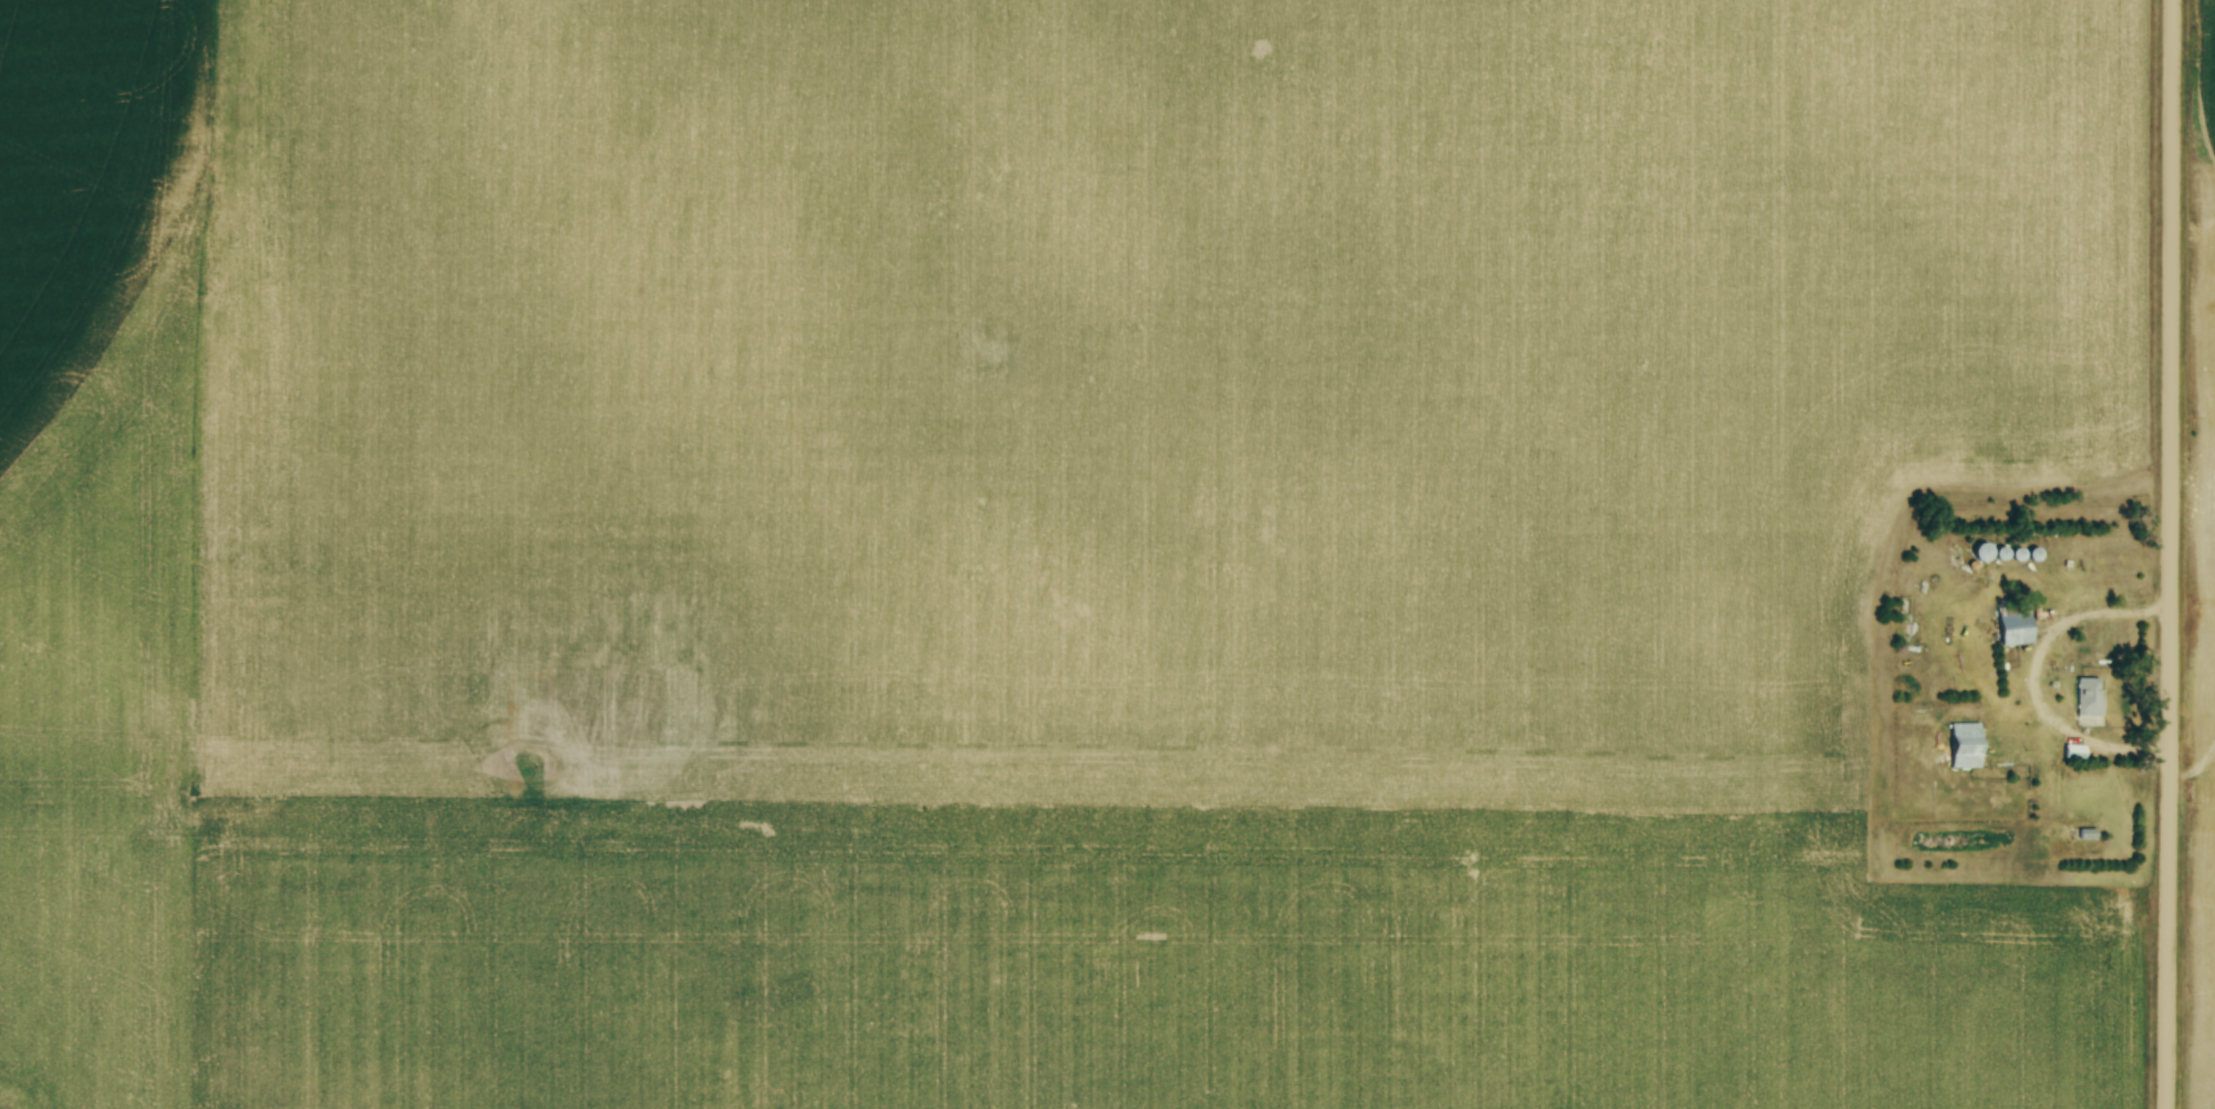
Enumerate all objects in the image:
building: (1977, 554)
road: (2172, 554)
building: (2011, 628)
road: (2039, 675)
building: (2087, 701)
building: (1962, 748)
building: (2084, 837)

